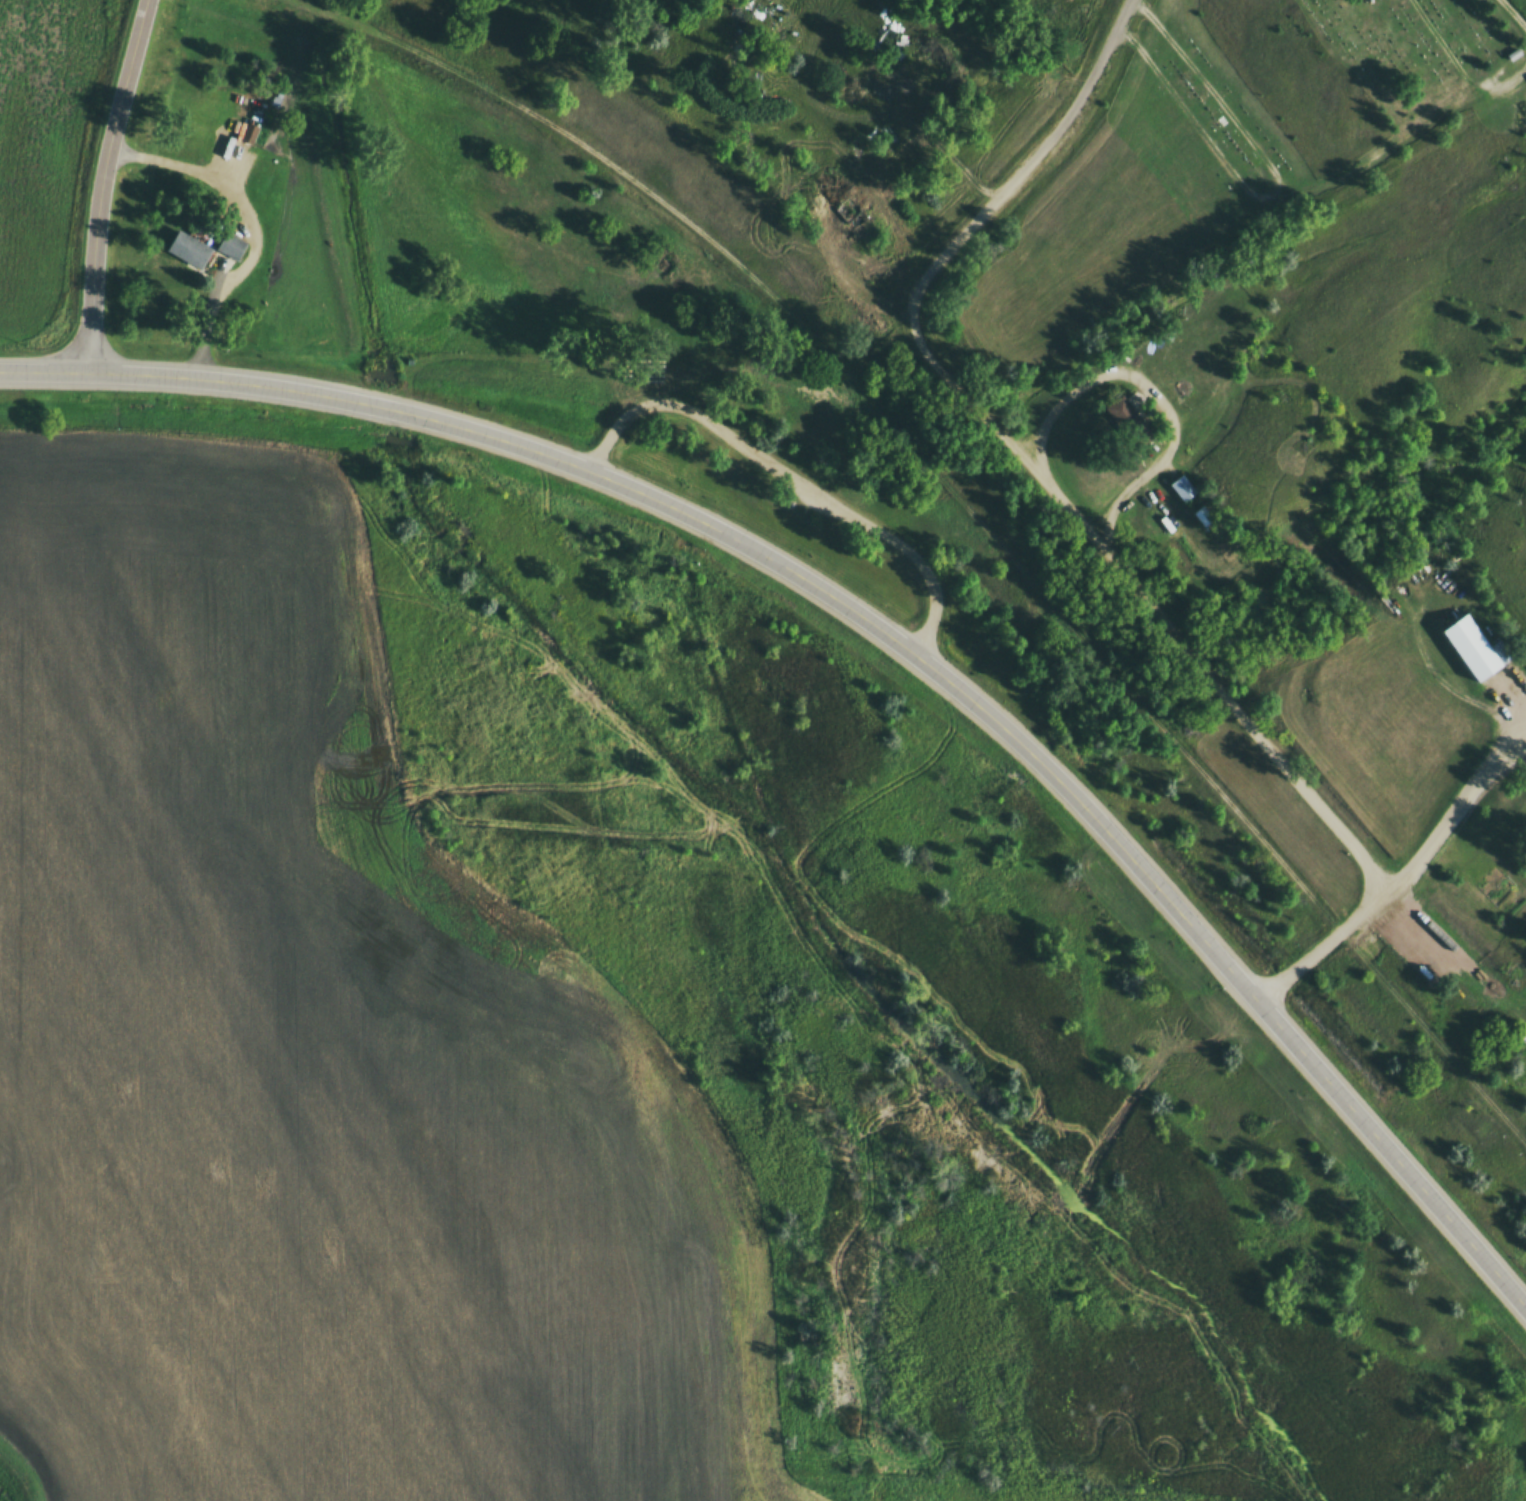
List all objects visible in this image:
road: (1513, 13)
road: (1449, 54)
road: (1514, 76)
park: (1295, 93)
building: (250, 135)
road: (103, 184)
building: (231, 245)
building: (187, 248)
road: (792, 476)
building: (1192, 480)
building: (1183, 489)
road: (963, 503)
building: (1216, 507)
road: (1074, 514)
building: (1203, 517)
building: (1165, 526)
road: (877, 628)
building: (1479, 642)
road: (1456, 809)

